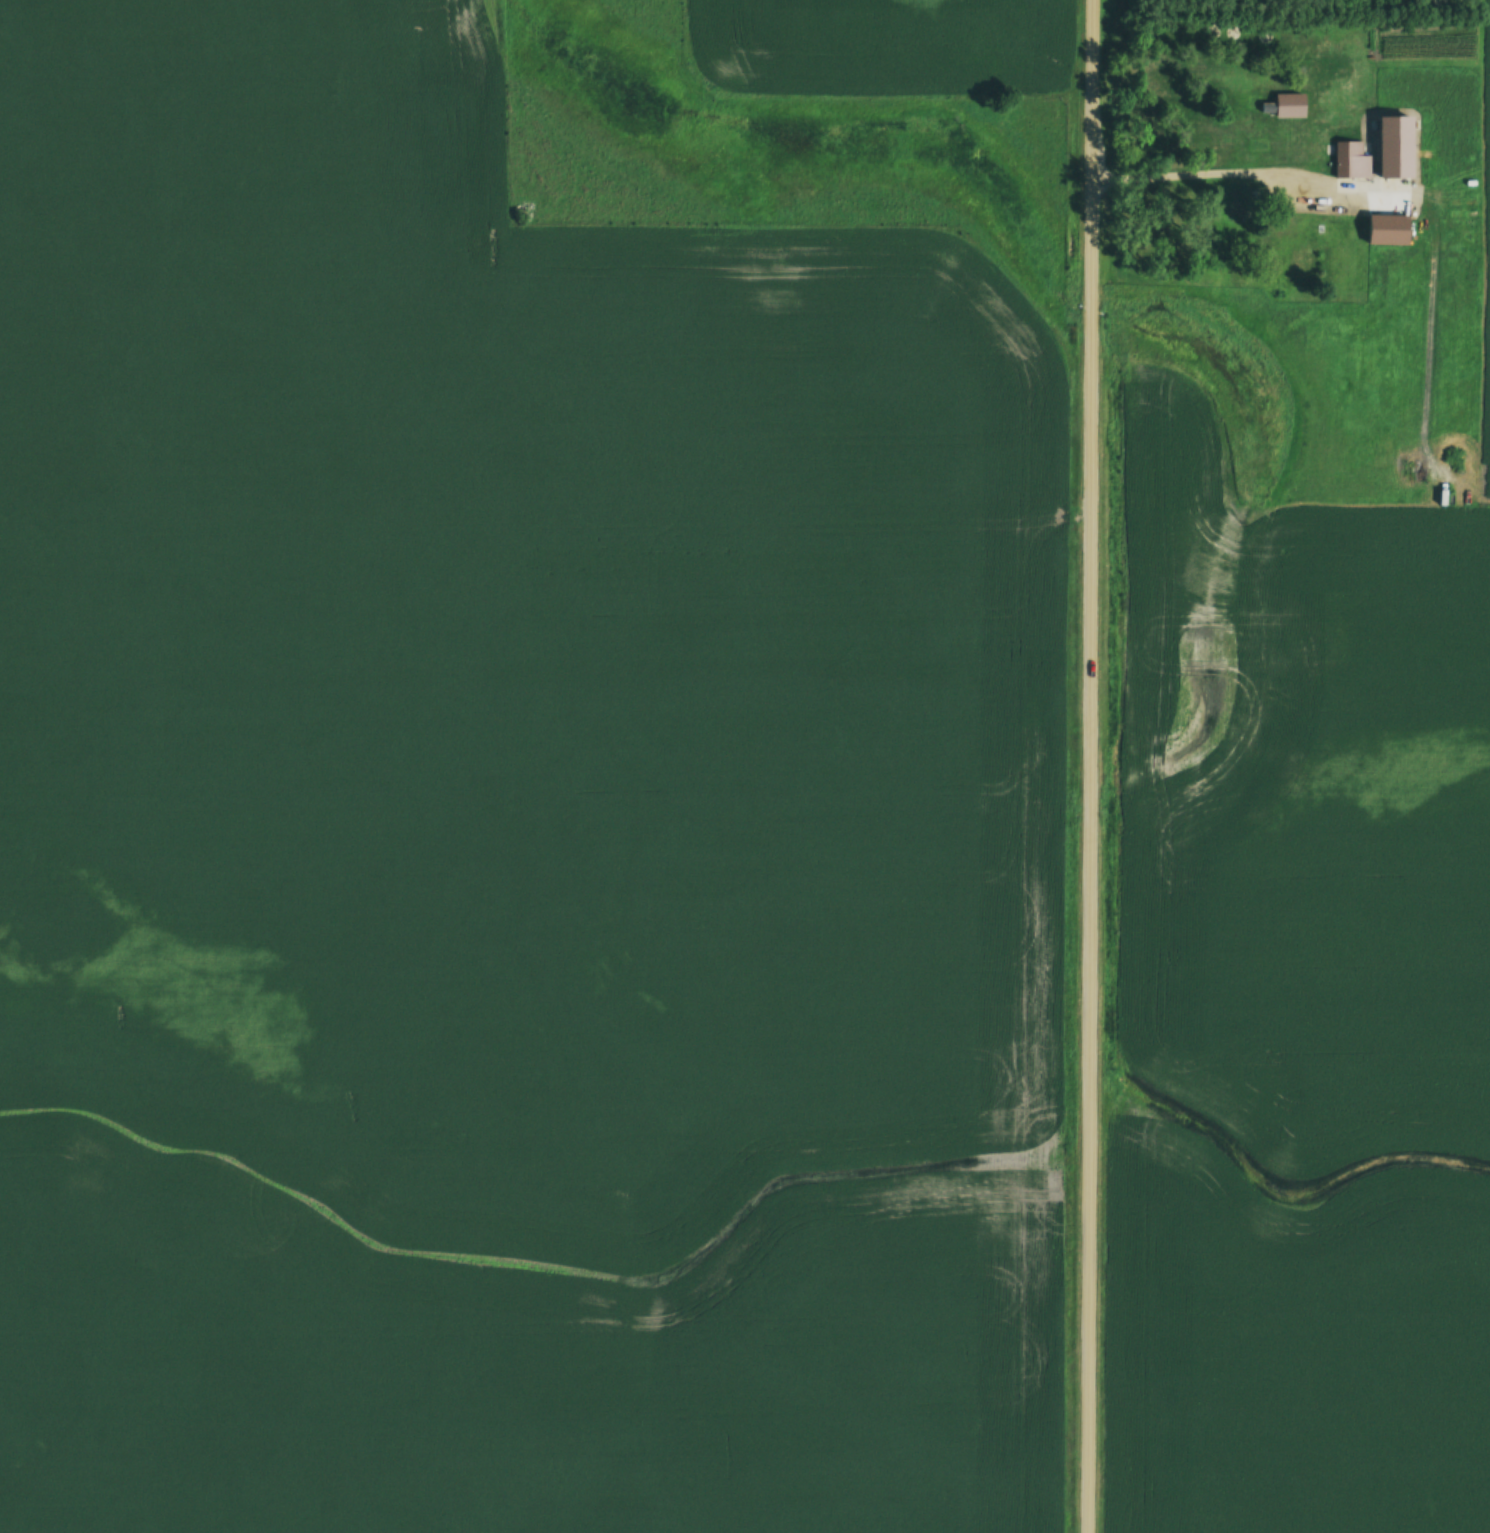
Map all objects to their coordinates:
building: (1271, 108)
building: (1401, 150)
building: (1353, 163)
road: (1089, 766)

